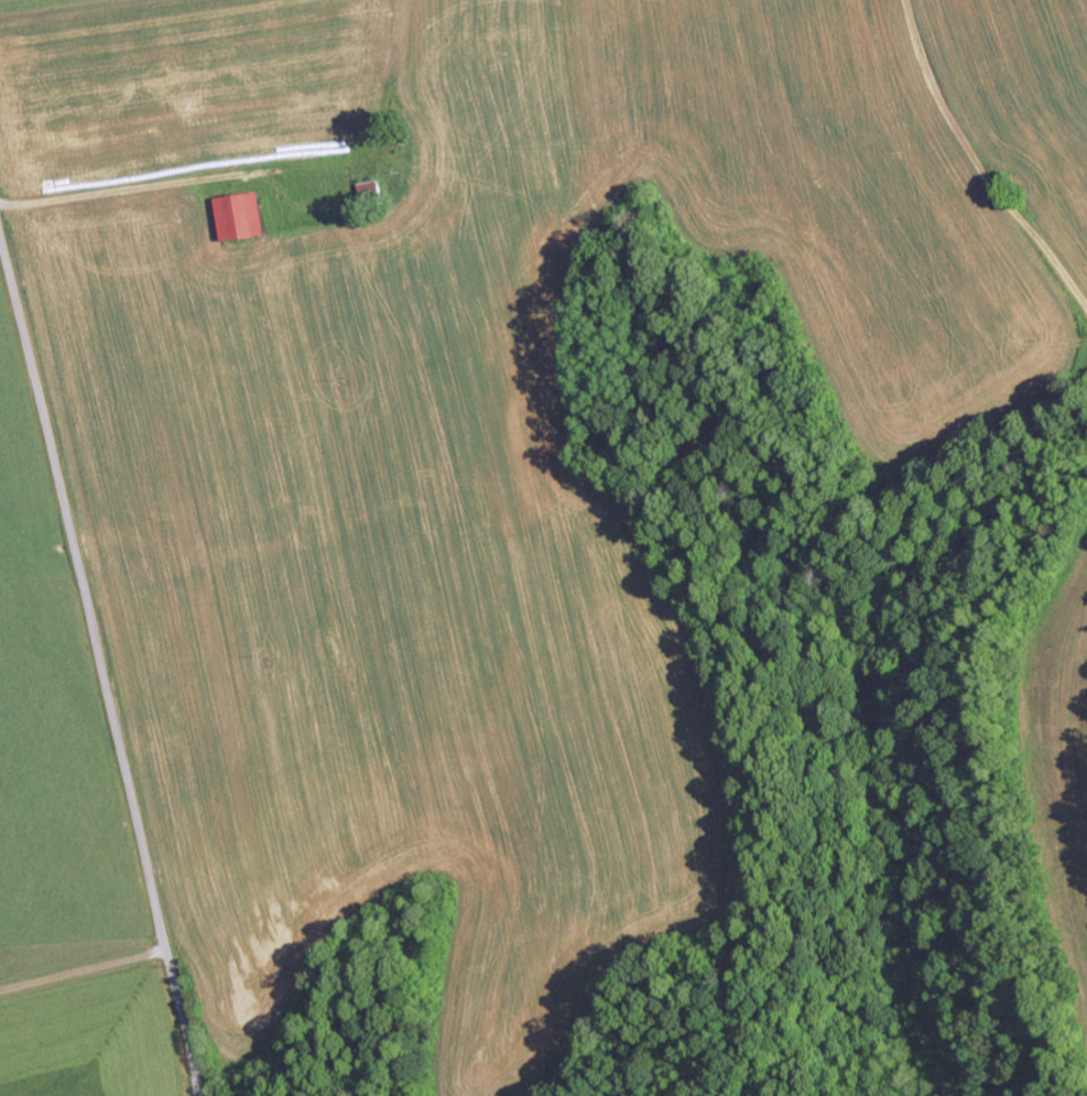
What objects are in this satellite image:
road: (258, 167)
road: (976, 177)
building: (240, 217)
road: (100, 665)

